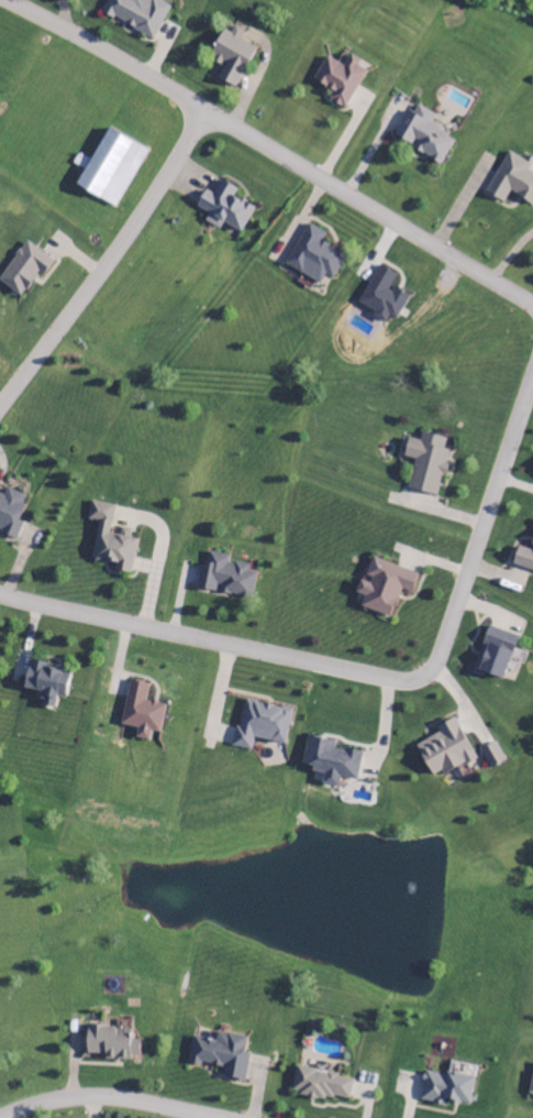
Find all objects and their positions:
building: (138, 14)
building: (233, 57)
building: (341, 80)
building: (424, 135)
building: (112, 169)
road: (175, 173)
building: (512, 180)
building: (225, 209)
road: (371, 215)
building: (314, 257)
building: (24, 271)
building: (384, 297)
building: (427, 464)
building: (11, 514)
building: (112, 541)
building: (524, 560)
building: (226, 579)
building: (385, 588)
building: (496, 655)
road: (369, 682)
building: (47, 684)
building: (142, 713)
building: (262, 726)
building: (446, 752)
building: (493, 757)
building: (331, 763)
building: (113, 1043)
building: (222, 1055)
building: (322, 1085)
building: (447, 1088)
building: (532, 1092)
road: (107, 1103)

